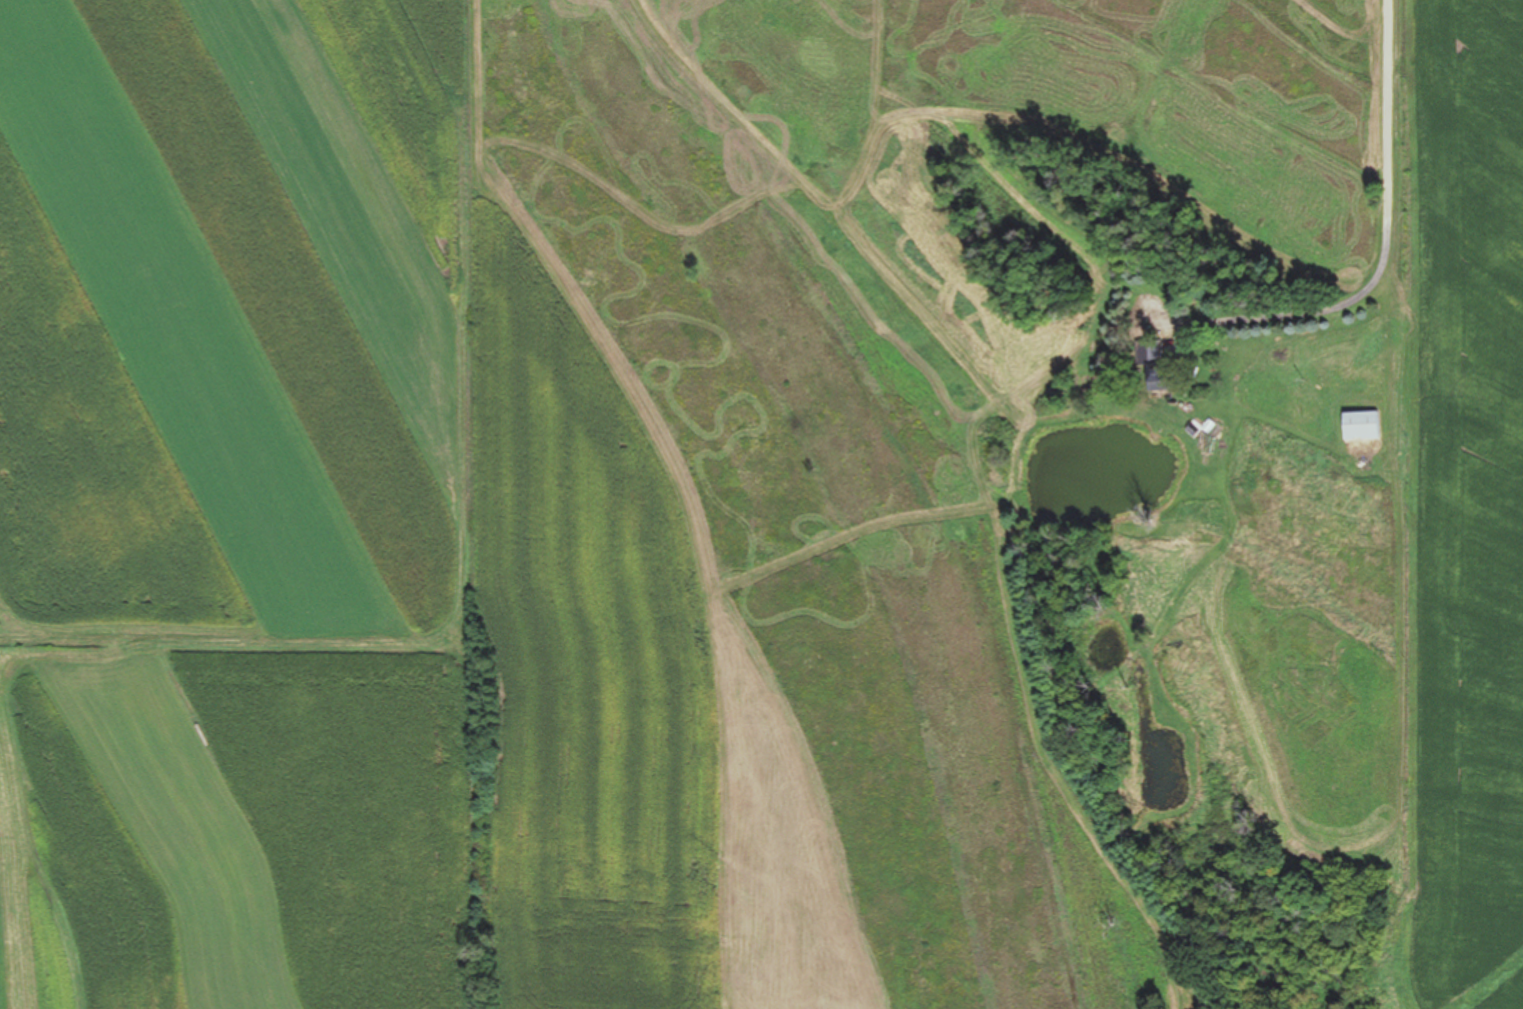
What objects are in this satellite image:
road: (1410, 231)
building: (1147, 365)
building: (1358, 425)

